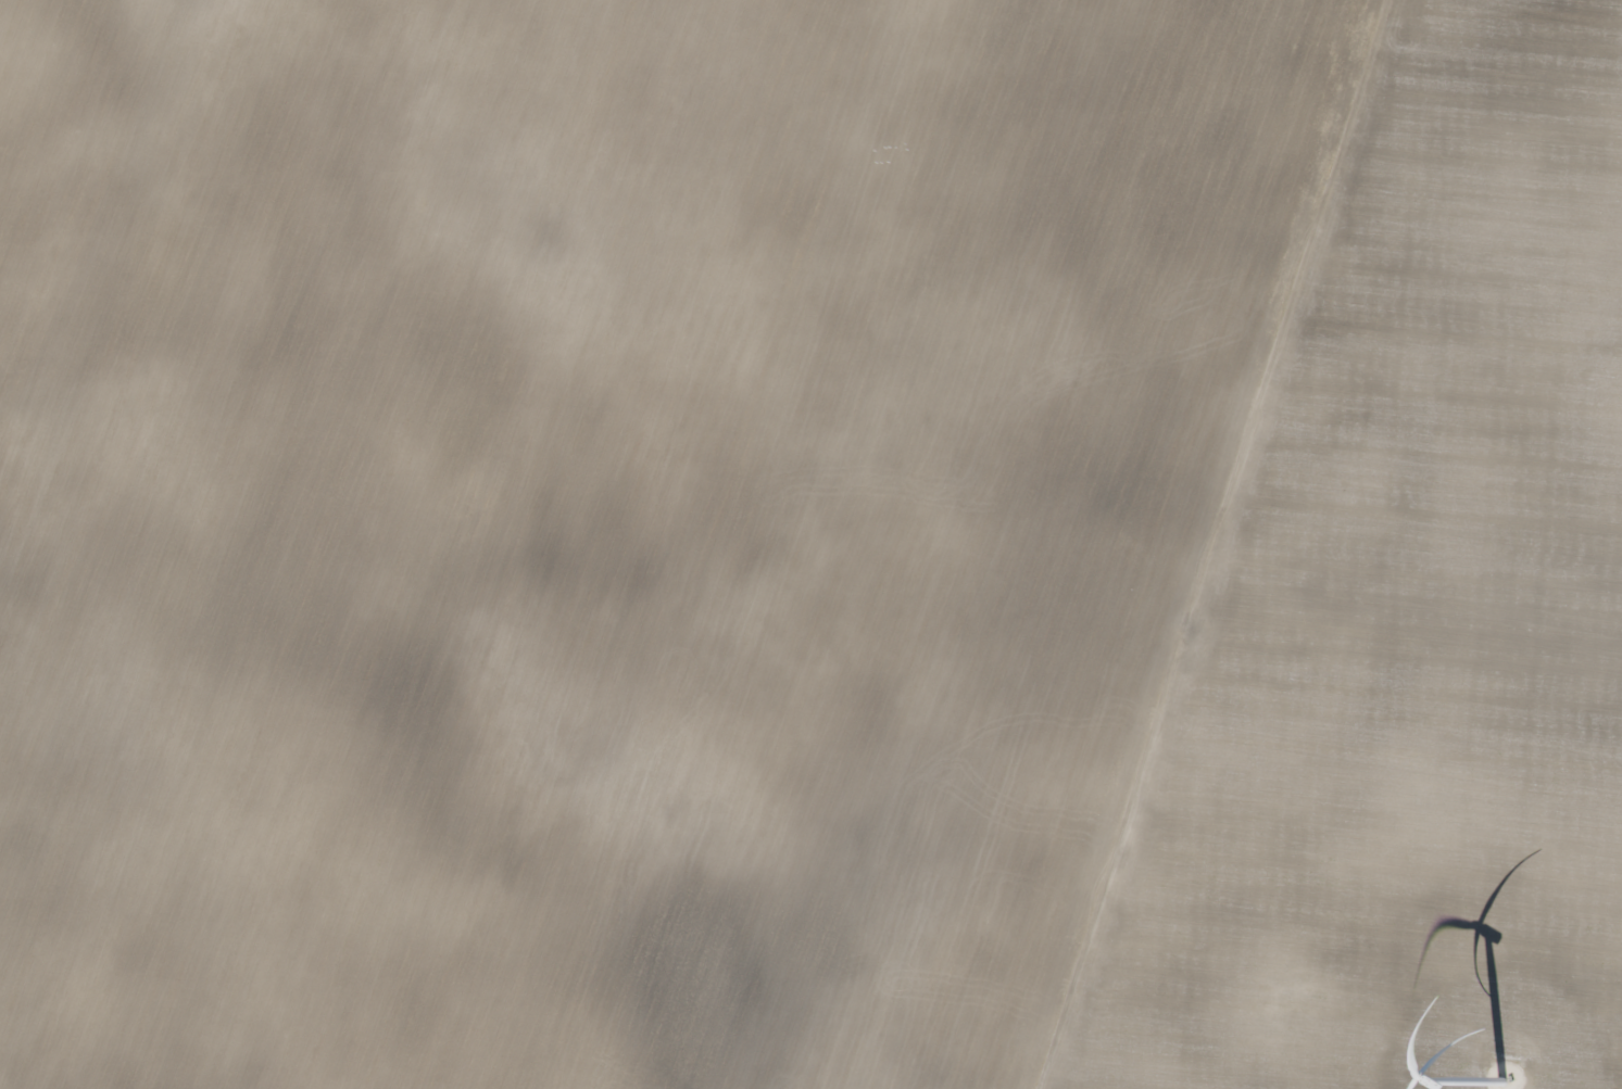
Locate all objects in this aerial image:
wind turbine: (1500, 1082)

